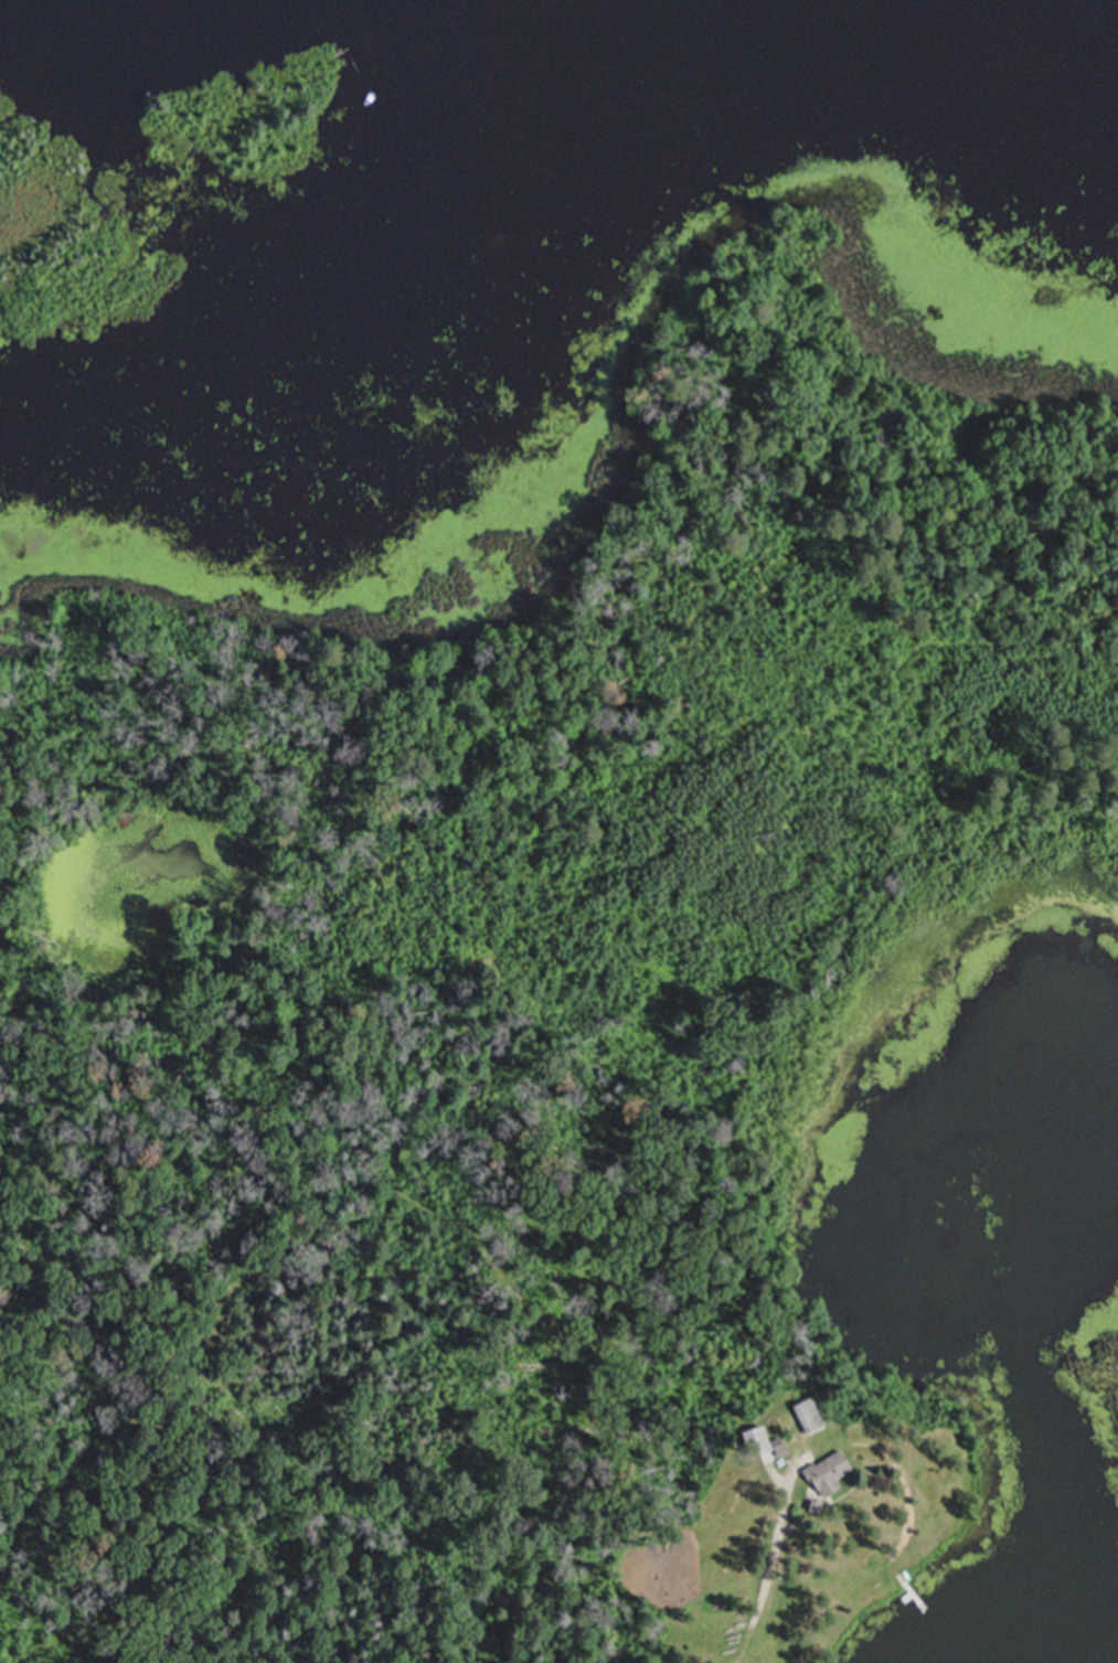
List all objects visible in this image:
building: (811, 1416)
building: (834, 1473)
road: (862, 1571)

